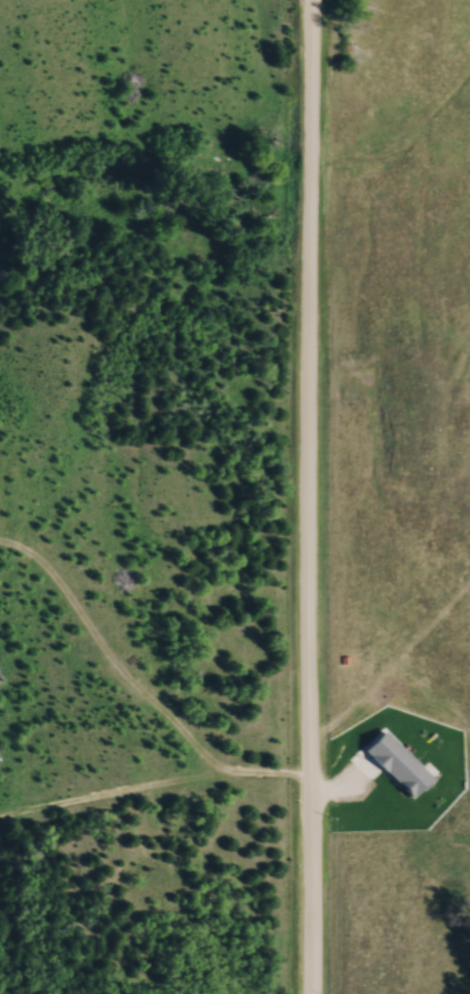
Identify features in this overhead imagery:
road: (308, 496)
building: (397, 763)

